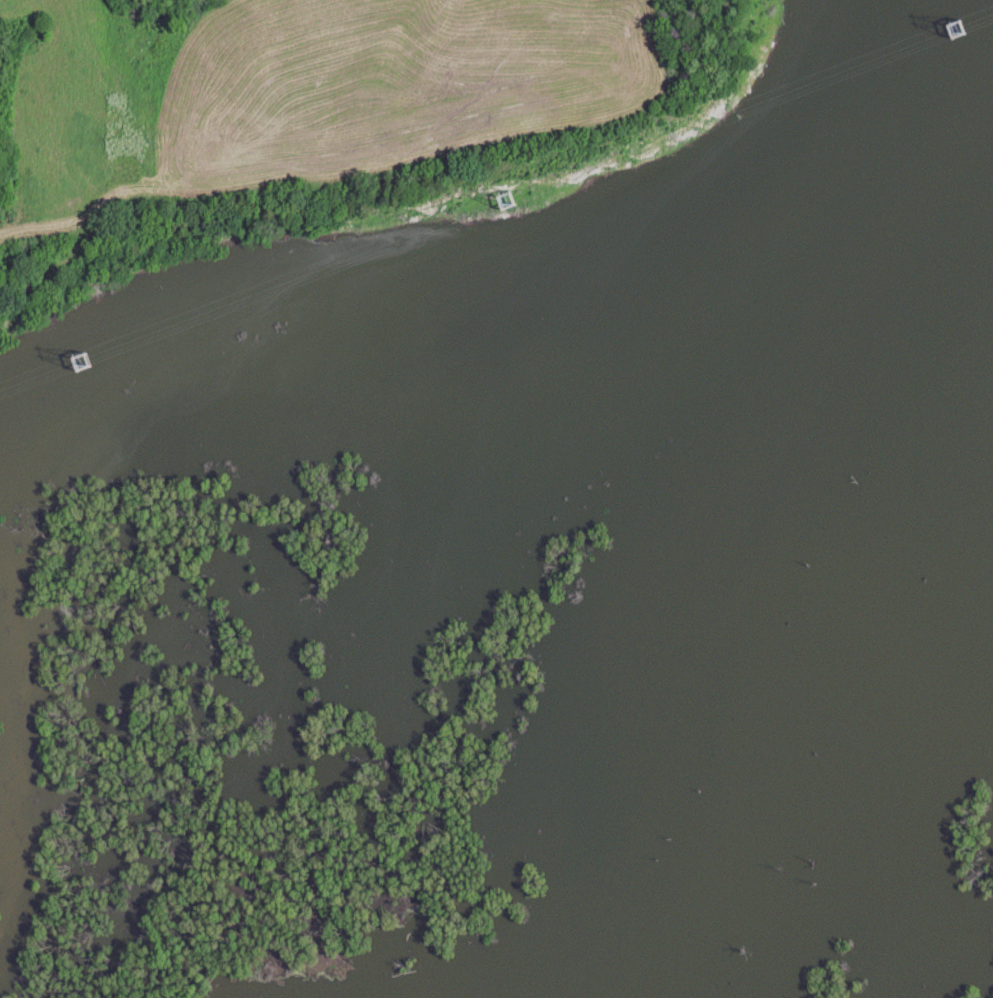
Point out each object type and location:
power tower: (958, 25)
power tower: (507, 198)
power tower: (81, 357)

